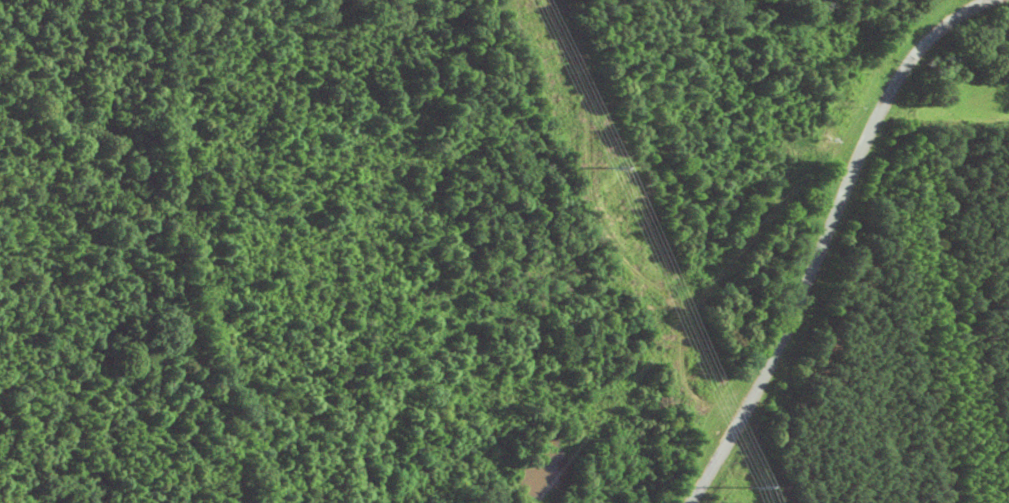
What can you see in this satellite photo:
road: (825, 233)

